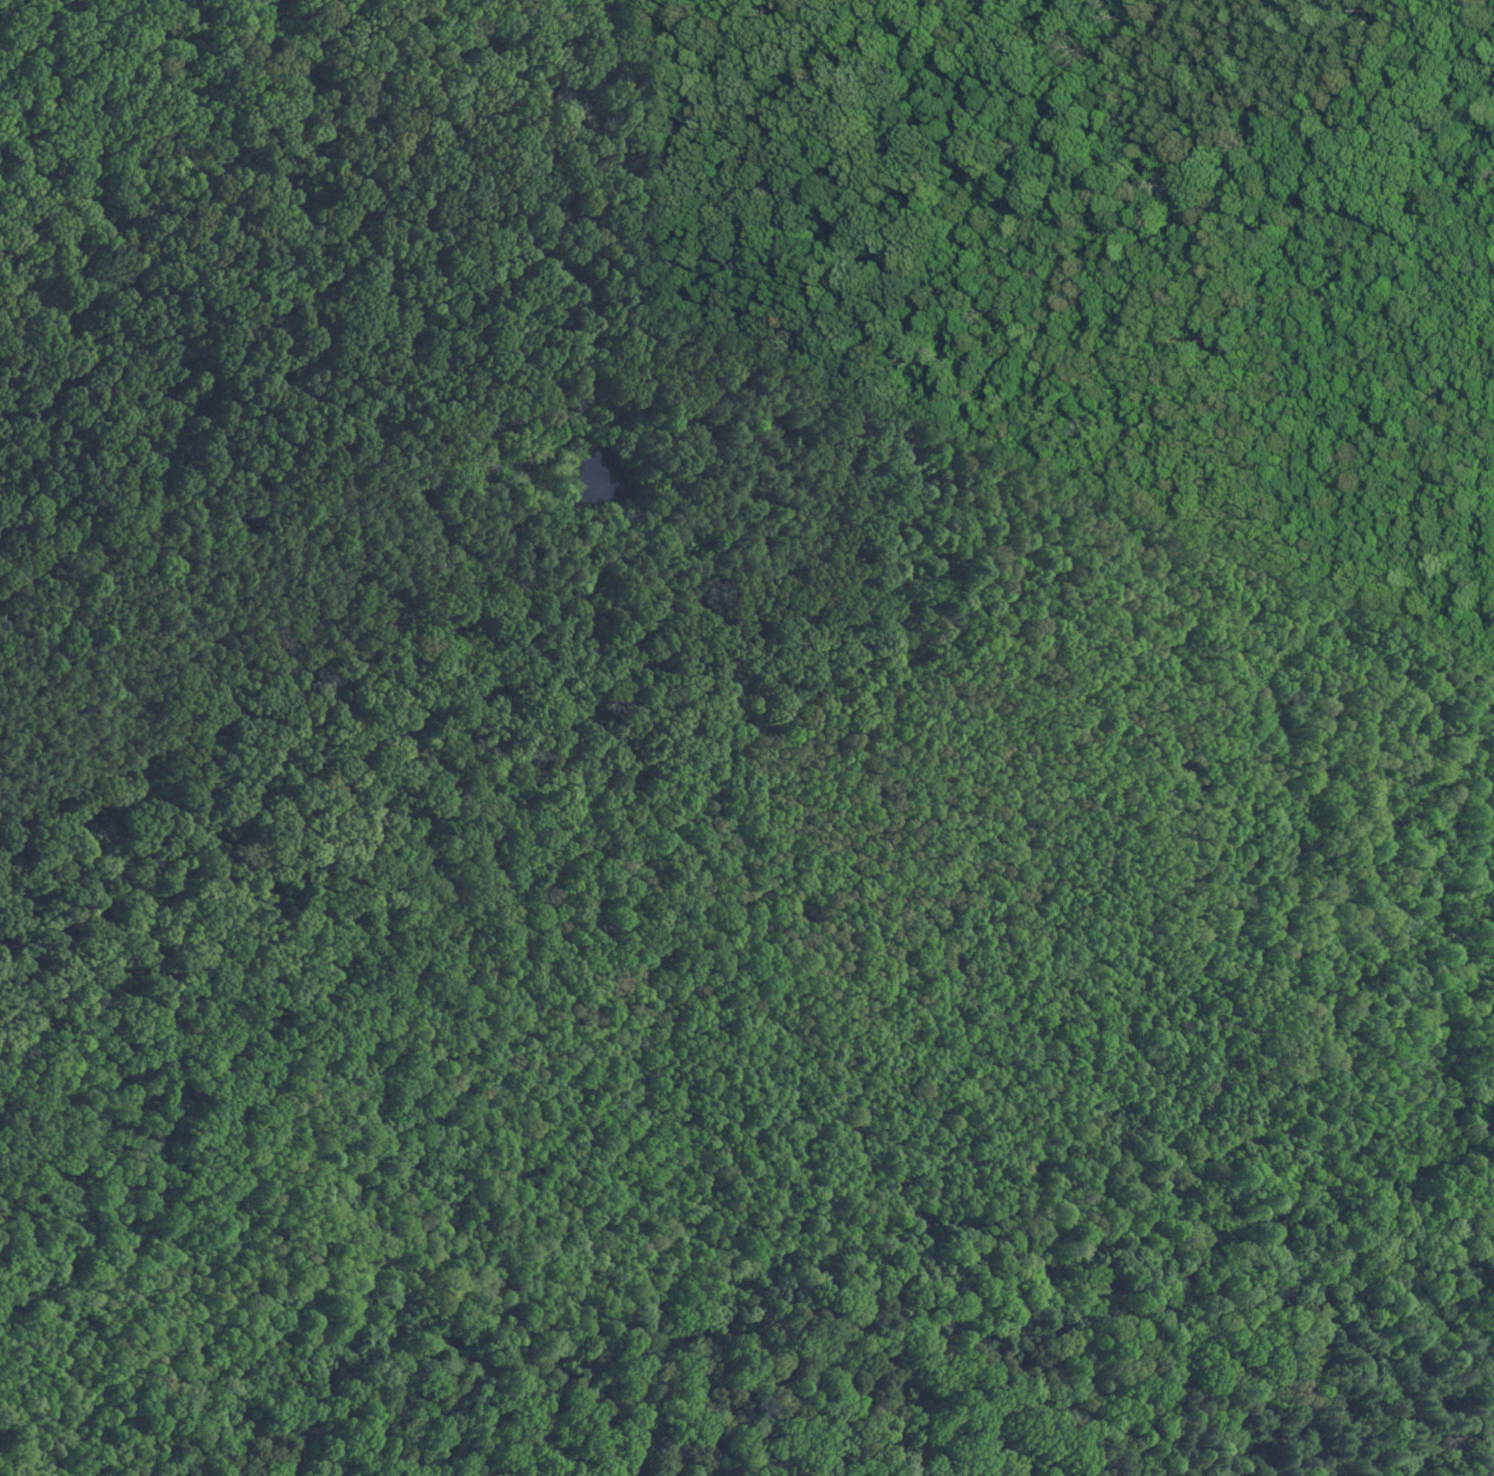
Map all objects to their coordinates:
road: (1380, 1226)

